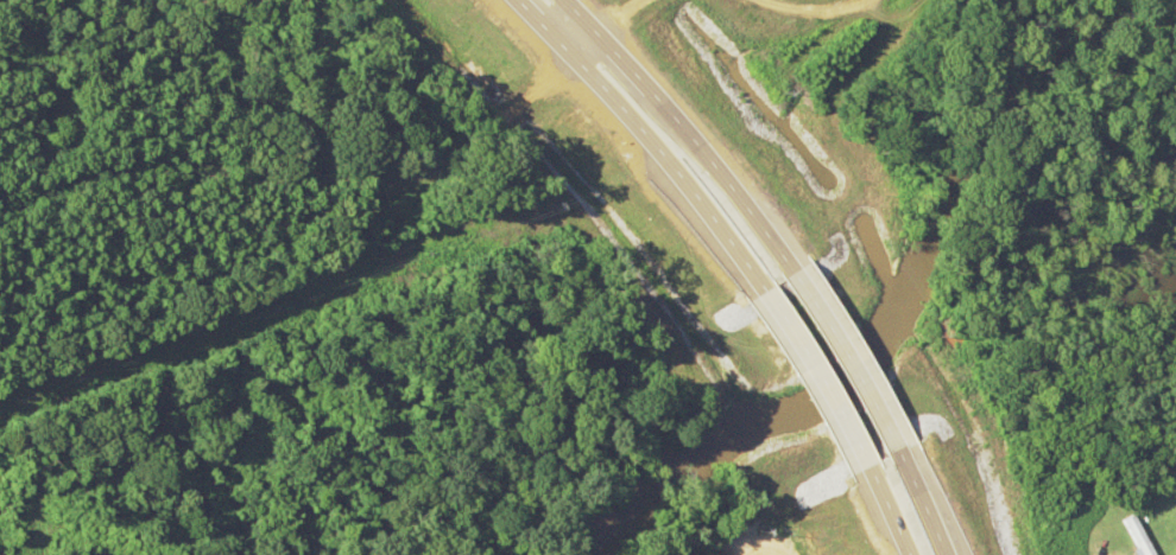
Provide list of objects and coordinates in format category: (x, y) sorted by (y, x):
road: (575, 40)
road: (679, 133)
road: (649, 139)
road: (845, 363)
road: (817, 382)
road: (918, 504)
road: (883, 512)
building: (1137, 536)

